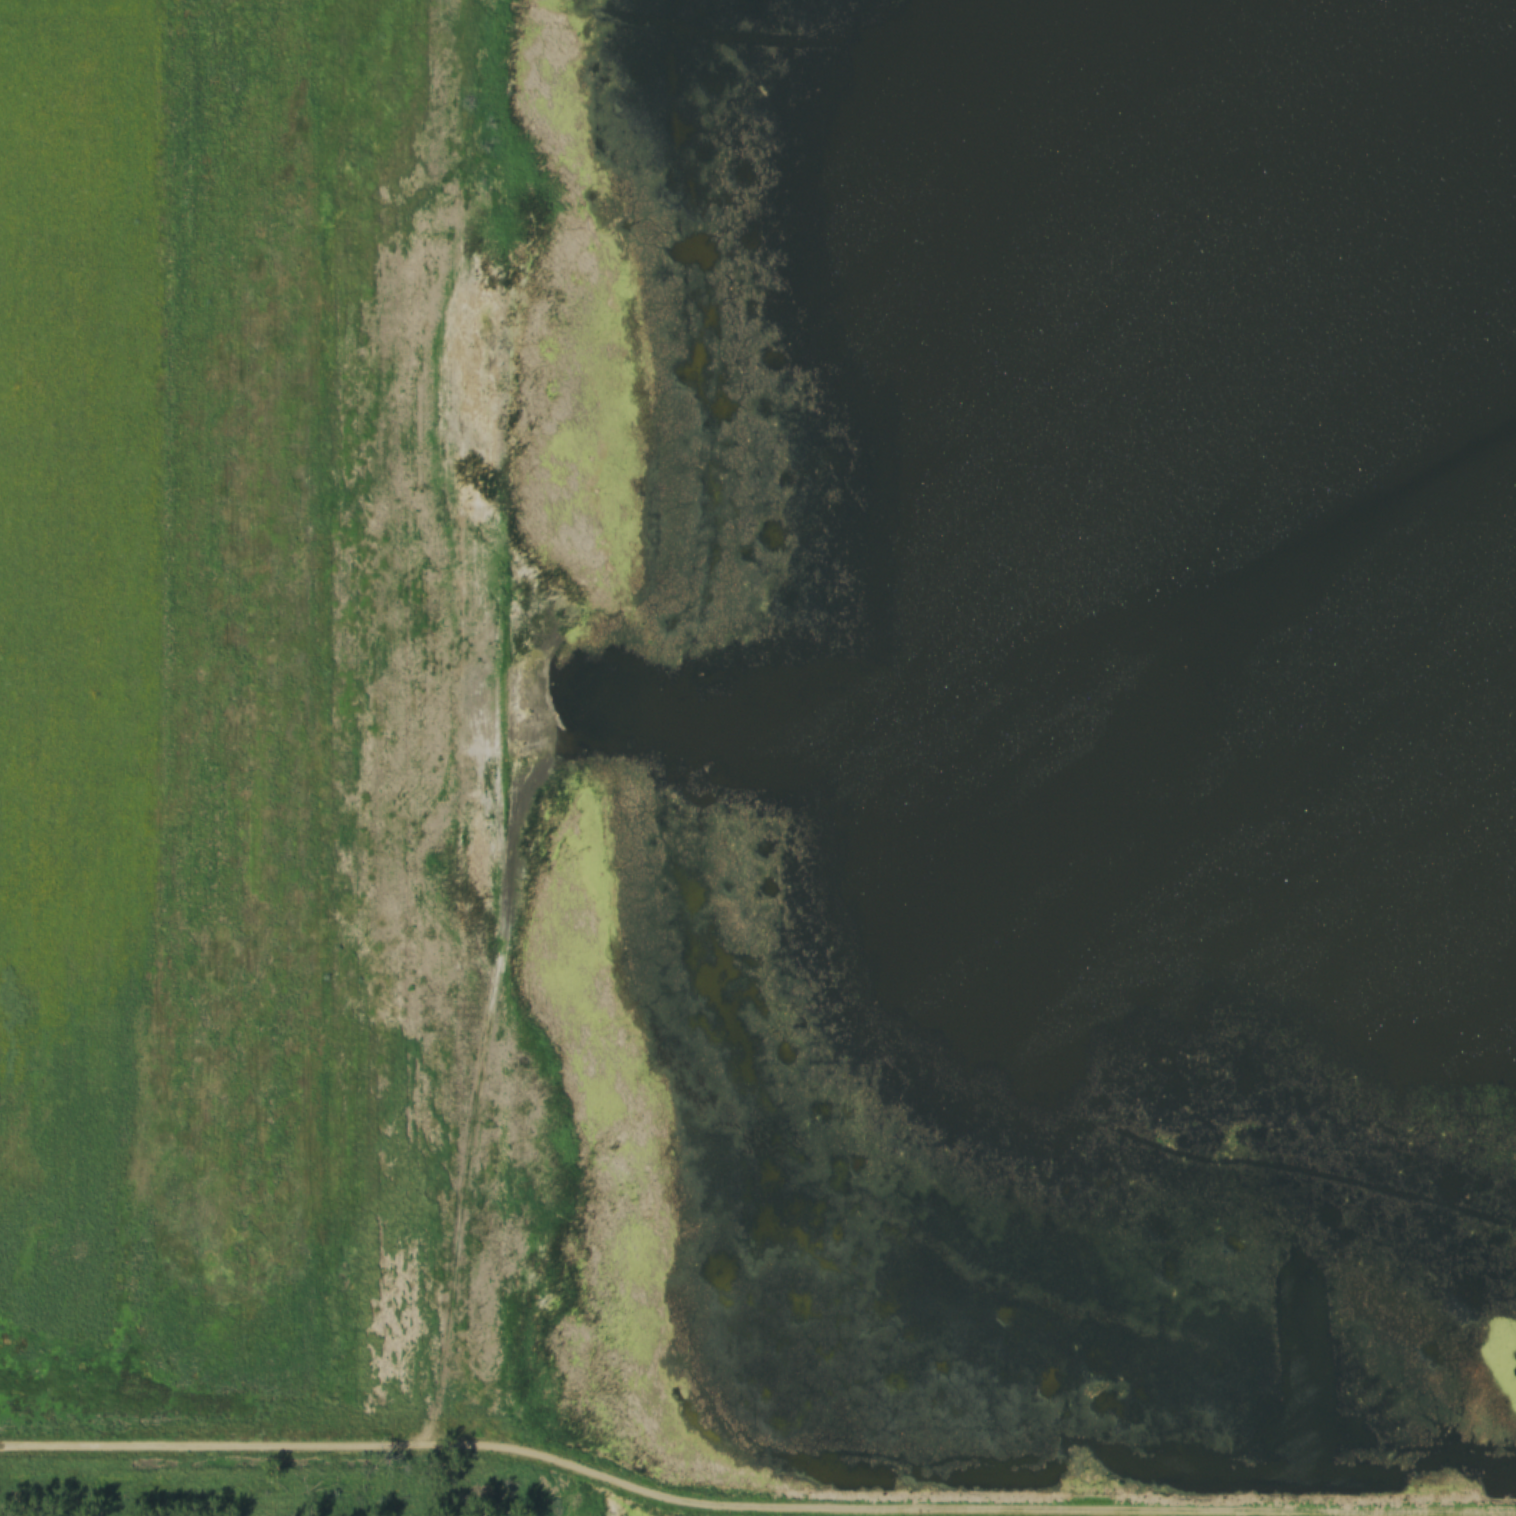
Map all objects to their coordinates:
dam: (1146, 1493)
road: (751, 1504)

